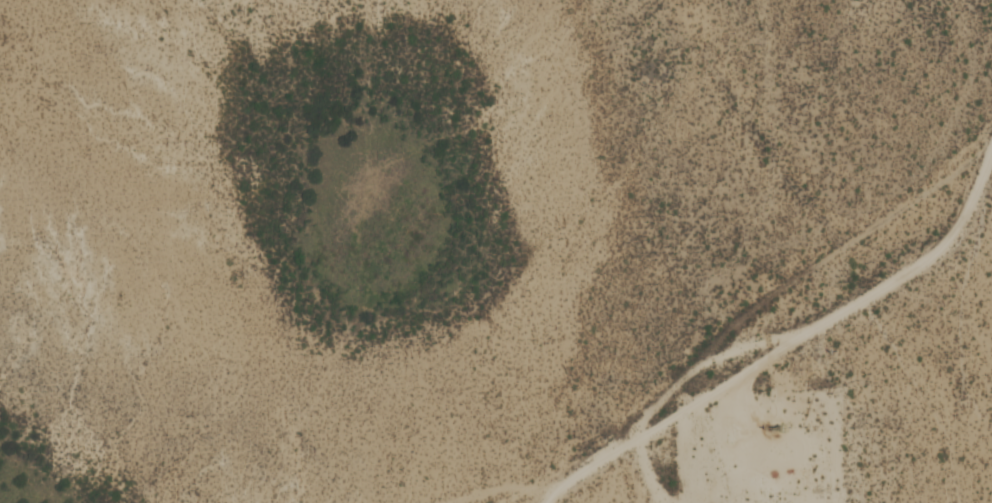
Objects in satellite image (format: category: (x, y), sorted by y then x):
road: (787, 344)

